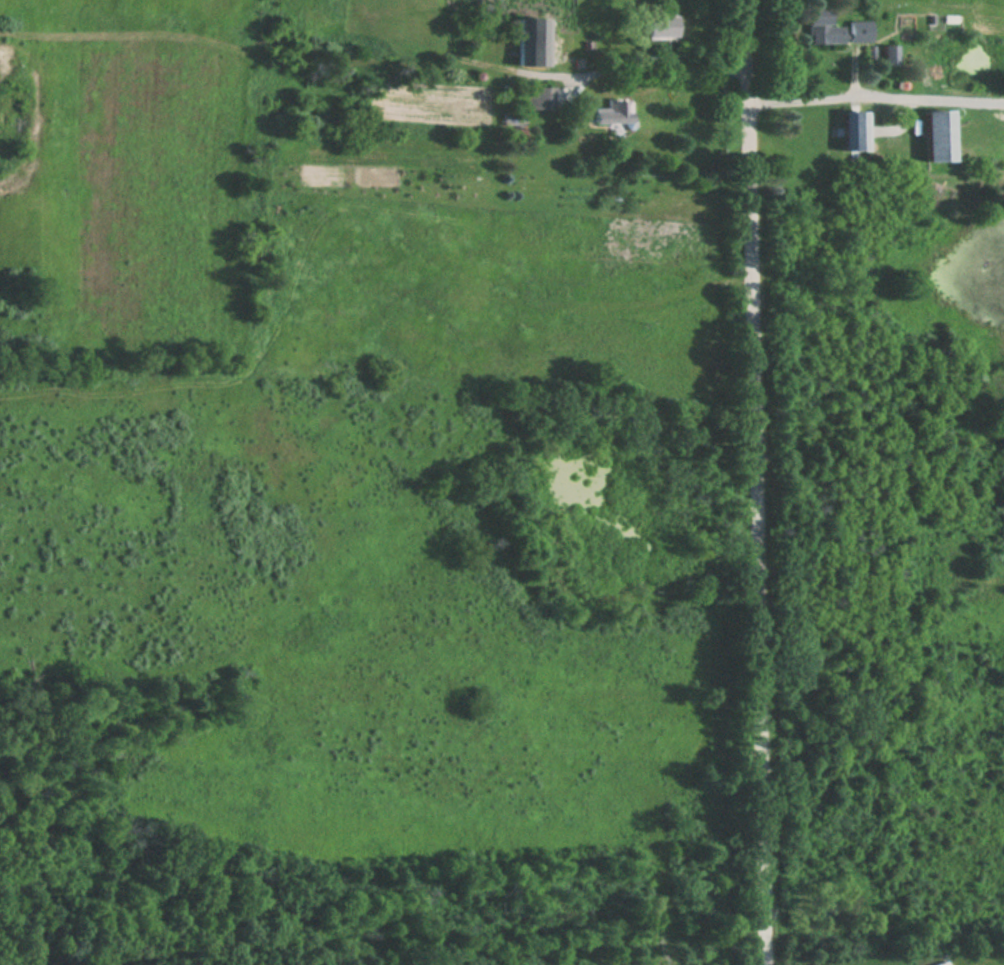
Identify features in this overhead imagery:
building: (663, 27)
building: (833, 30)
building: (531, 43)
road: (644, 82)
road: (876, 105)
building: (612, 114)
building: (854, 133)
building: (939, 138)
road: (756, 482)

